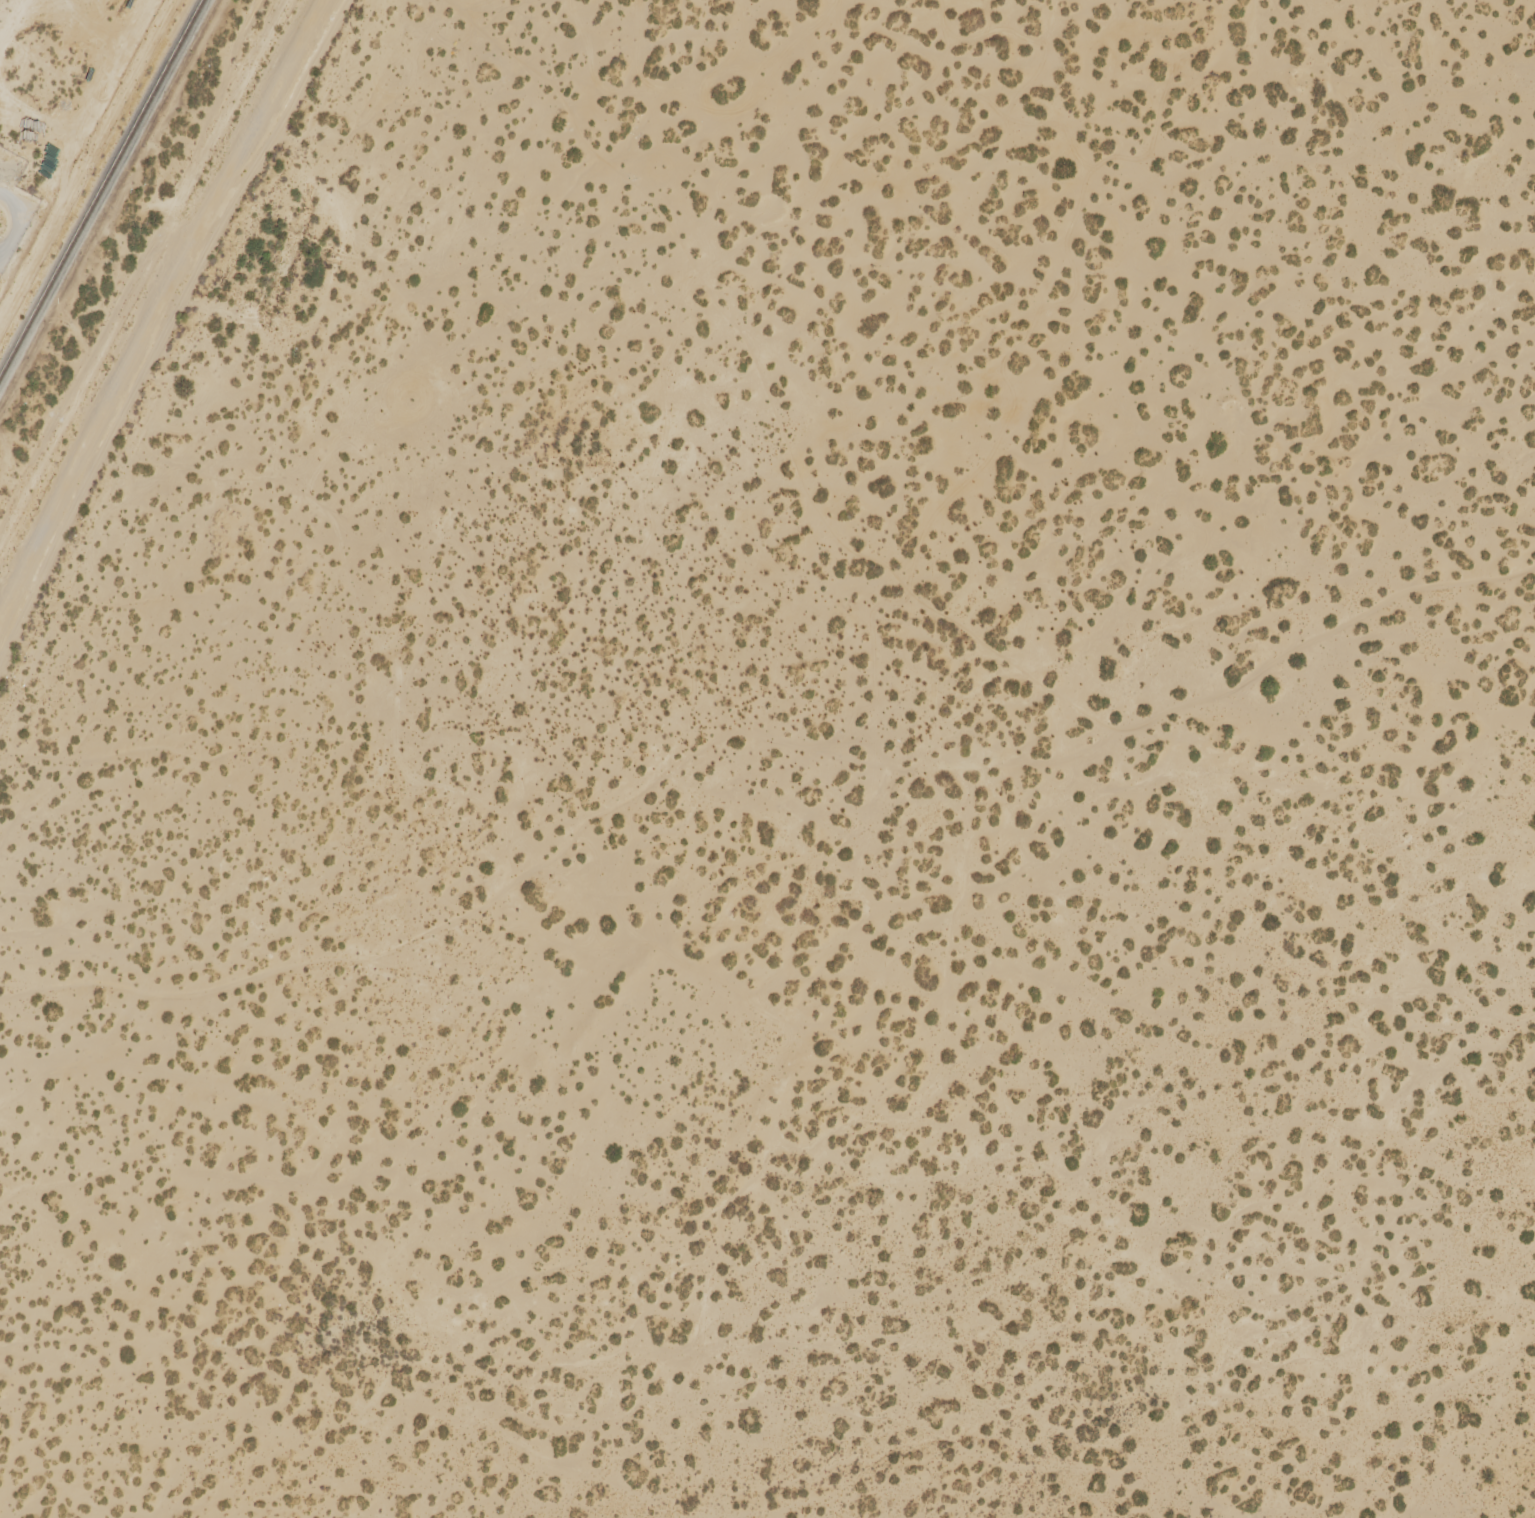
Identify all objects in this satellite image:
railway: (101, 187)

